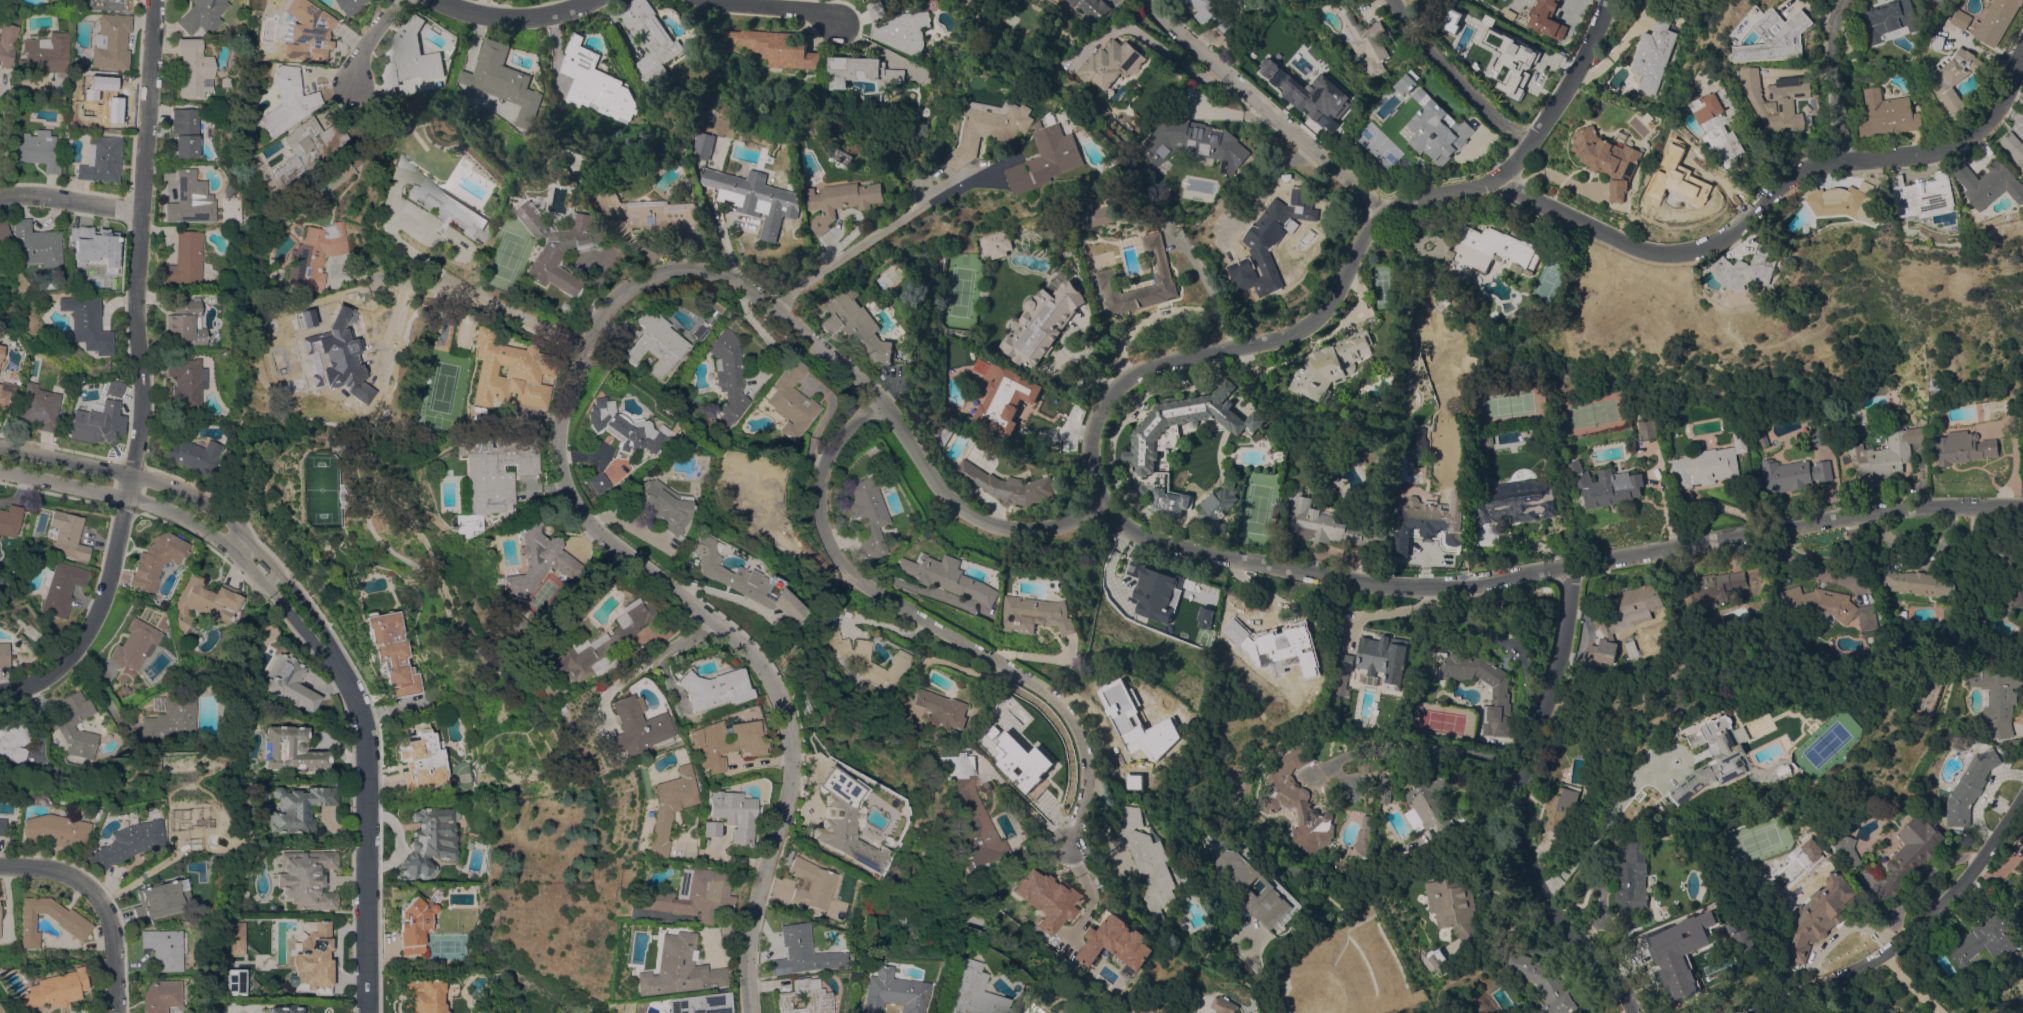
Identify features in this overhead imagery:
building: (1943, 0)
building: (1947, 0)
building: (1182, 2)
building: (105, 5)
building: (347, 5)
road: (774, 7)
building: (1092, 7)
building: (202, 16)
building: (1215, 16)
road: (516, 17)
building: (1542, 18)
building: (1893, 19)
building: (1966, 19)
building: (1999, 21)
building: (899, 27)
building: (306, 31)
building: (1782, 35)
building: (649, 39)
road: (368, 41)
building: (1943, 41)
building: (110, 42)
building: (6, 43)
building: (1369, 43)
building: (776, 46)
building: (1464, 49)
building: (955, 52)
road: (1170, 53)
building: (1656, 54)
building: (408, 57)
building: (46, 59)
building: (1112, 63)
building: (1422, 66)
building: (193, 68)
building: (1519, 69)
building: (861, 71)
building: (1296, 72)
building: (1959, 77)
building: (504, 80)
building: (225, 81)
road: (1452, 81)
road: (1845, 81)
building: (1406, 82)
building: (595, 83)
building: (100, 99)
building: (871, 100)
building: (1782, 100)
building: (286, 101)
building: (1344, 105)
road: (1265, 108)
building: (1893, 114)
building: (1055, 118)
building: (1139, 118)
building: (1723, 123)
building: (1043, 124)
building: (1437, 126)
building: (992, 128)
building: (918, 131)
building: (184, 132)
building: (2015, 143)
building: (704, 144)
building: (1211, 147)
building: (305, 148)
building: (36, 150)
building: (1050, 158)
building: (1609, 158)
building: (101, 159)
building: (401, 161)
road: (1, 162)
building: (355, 162)
building: (2022, 162)
building: (1681, 176)
building: (1994, 184)
building: (1927, 195)
building: (756, 196)
building: (191, 199)
building: (842, 200)
building: (1842, 200)
road: (69, 201)
road: (1772, 202)
building: (446, 208)
building: (650, 211)
building: (1105, 215)
road: (882, 230)
road: (724, 232)
building: (3, 233)
building: (996, 243)
building: (1269, 244)
building: (34, 245)
building: (556, 245)
building: (90, 246)
building: (1488, 252)
building: (315, 254)
building: (185, 259)
building: (1749, 268)
building: (1106, 273)
road: (1345, 273)
building: (939, 288)
road: (464, 291)
road: (1212, 294)
building: (212, 300)
building: (186, 322)
building: (1041, 323)
building: (86, 324)
building: (858, 327)
building: (698, 330)
road: (763, 333)
building: (442, 334)
building: (654, 343)
building: (299, 344)
building: (1, 352)
building: (1330, 365)
building: (1429, 366)
building: (504, 372)
road: (139, 374)
building: (726, 374)
building: (63, 381)
building: (187, 382)
building: (1438, 391)
road: (570, 392)
building: (4, 397)
building: (1004, 397)
building: (1441, 398)
building: (787, 402)
building: (39, 406)
building: (102, 419)
road: (818, 425)
building: (618, 427)
building: (1647, 427)
building: (1761, 436)
building: (1817, 436)
building: (1146, 437)
building: (1416, 443)
building: (1962, 447)
building: (1887, 452)
building: (194, 455)
building: (1708, 463)
building: (1793, 473)
building: (486, 474)
building: (591, 482)
building: (1009, 485)
building: (1605, 485)
building: (745, 491)
building: (340, 495)
building: (1168, 495)
building: (1516, 500)
building: (654, 505)
building: (1218, 507)
building: (866, 514)
building: (10, 520)
building: (1427, 521)
building: (1326, 524)
building: (68, 535)
road: (798, 558)
building: (155, 561)
building: (530, 563)
building: (261, 567)
road: (1561, 572)
building: (948, 576)
building: (2016, 578)
building: (736, 581)
building: (1921, 581)
building: (1151, 586)
building: (1710, 586)
building: (60, 588)
road: (919, 588)
building: (205, 601)
building: (1824, 606)
building: (1035, 614)
building: (1200, 618)
building: (1624, 618)
building: (506, 629)
road: (940, 629)
road: (319, 640)
building: (1267, 643)
building: (134, 644)
building: (584, 646)
building: (1631, 649)
building: (822, 651)
building: (390, 653)
building: (3, 654)
road: (643, 656)
building: (863, 657)
building: (1383, 657)
building: (1343, 673)
building: (289, 683)
building: (699, 688)
building: (1500, 695)
building: (1997, 698)
building: (940, 709)
building: (899, 715)
building: (173, 717)
building: (65, 727)
building: (619, 728)
building: (1142, 728)
building: (13, 741)
building: (709, 742)
building: (1017, 742)
building: (2012, 744)
road: (1422, 746)
building: (290, 749)
building: (422, 759)
building: (1730, 760)
building: (1786, 770)
building: (1134, 784)
building: (1970, 787)
building: (1388, 789)
building: (1235, 792)
building: (1296, 801)
building: (1431, 803)
road: (1519, 805)
building: (653, 806)
building: (298, 808)
building: (1560, 809)
building: (972, 812)
building: (718, 814)
road: (1603, 819)
building: (834, 820)
building: (189, 824)
building: (1, 826)
building: (695, 829)
building: (54, 830)
building: (1361, 840)
building: (429, 841)
building: (127, 843)
building: (1844, 849)
building: (1911, 852)
building: (1147, 862)
road: (135, 878)
building: (305, 878)
building: (1633, 883)
building: (798, 884)
building: (1270, 892)
building: (680, 895)
building: (168, 898)
building: (1044, 898)
road: (98, 904)
building: (1455, 908)
building: (1819, 912)
building: (2020, 913)
building: (66, 917)
building: (414, 924)
road: (1914, 928)
building: (1203, 930)
building: (236, 938)
building: (1115, 941)
building: (1982, 941)
building: (162, 949)
building: (1688, 952)
building: (791, 953)
building: (313, 959)
building: (665, 968)
road: (1260, 975)
building: (235, 981)
building: (1543, 983)
road: (1908, 985)
building: (52, 990)
building: (964, 990)
building: (887, 992)
building: (159, 996)
building: (424, 996)
building: (793, 998)
building: (688, 1004)
building: (1225, 1005)
building: (283, 1009)
building: (1891, 1010)
building: (0, 1012)

